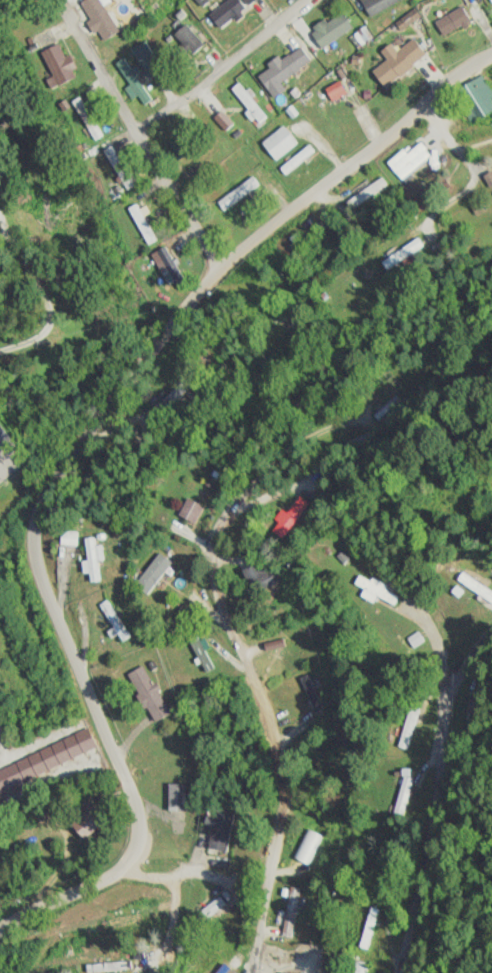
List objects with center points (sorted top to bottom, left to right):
building: (491, 1)
building: (377, 5)
building: (229, 11)
building: (99, 17)
building: (452, 22)
building: (331, 29)
building: (188, 39)
building: (142, 53)
building: (397, 62)
building: (59, 64)
road: (223, 68)
building: (283, 70)
building: (133, 81)
building: (333, 88)
building: (478, 99)
building: (249, 103)
building: (87, 118)
building: (223, 120)
road: (142, 143)
building: (279, 143)
building: (408, 160)
building: (119, 167)
building: (242, 188)
building: (369, 192)
building: (137, 218)
building: (308, 236)
building: (403, 254)
building: (168, 264)
building: (284, 324)
building: (175, 398)
building: (390, 411)
building: (4, 437)
building: (359, 444)
road: (69, 457)
road: (8, 485)
building: (189, 511)
building: (69, 538)
building: (92, 558)
building: (152, 573)
building: (256, 577)
building: (475, 587)
building: (375, 590)
building: (113, 621)
road: (226, 622)
road: (29, 632)
building: (412, 640)
road: (474, 658)
building: (312, 693)
building: (148, 694)
building: (410, 727)
building: (46, 760)
building: (177, 798)
building: (404, 798)
road: (246, 818)
road: (430, 821)
building: (87, 823)
building: (220, 833)
building: (214, 907)
building: (292, 912)
building: (371, 928)
building: (231, 965)
building: (359, 967)

